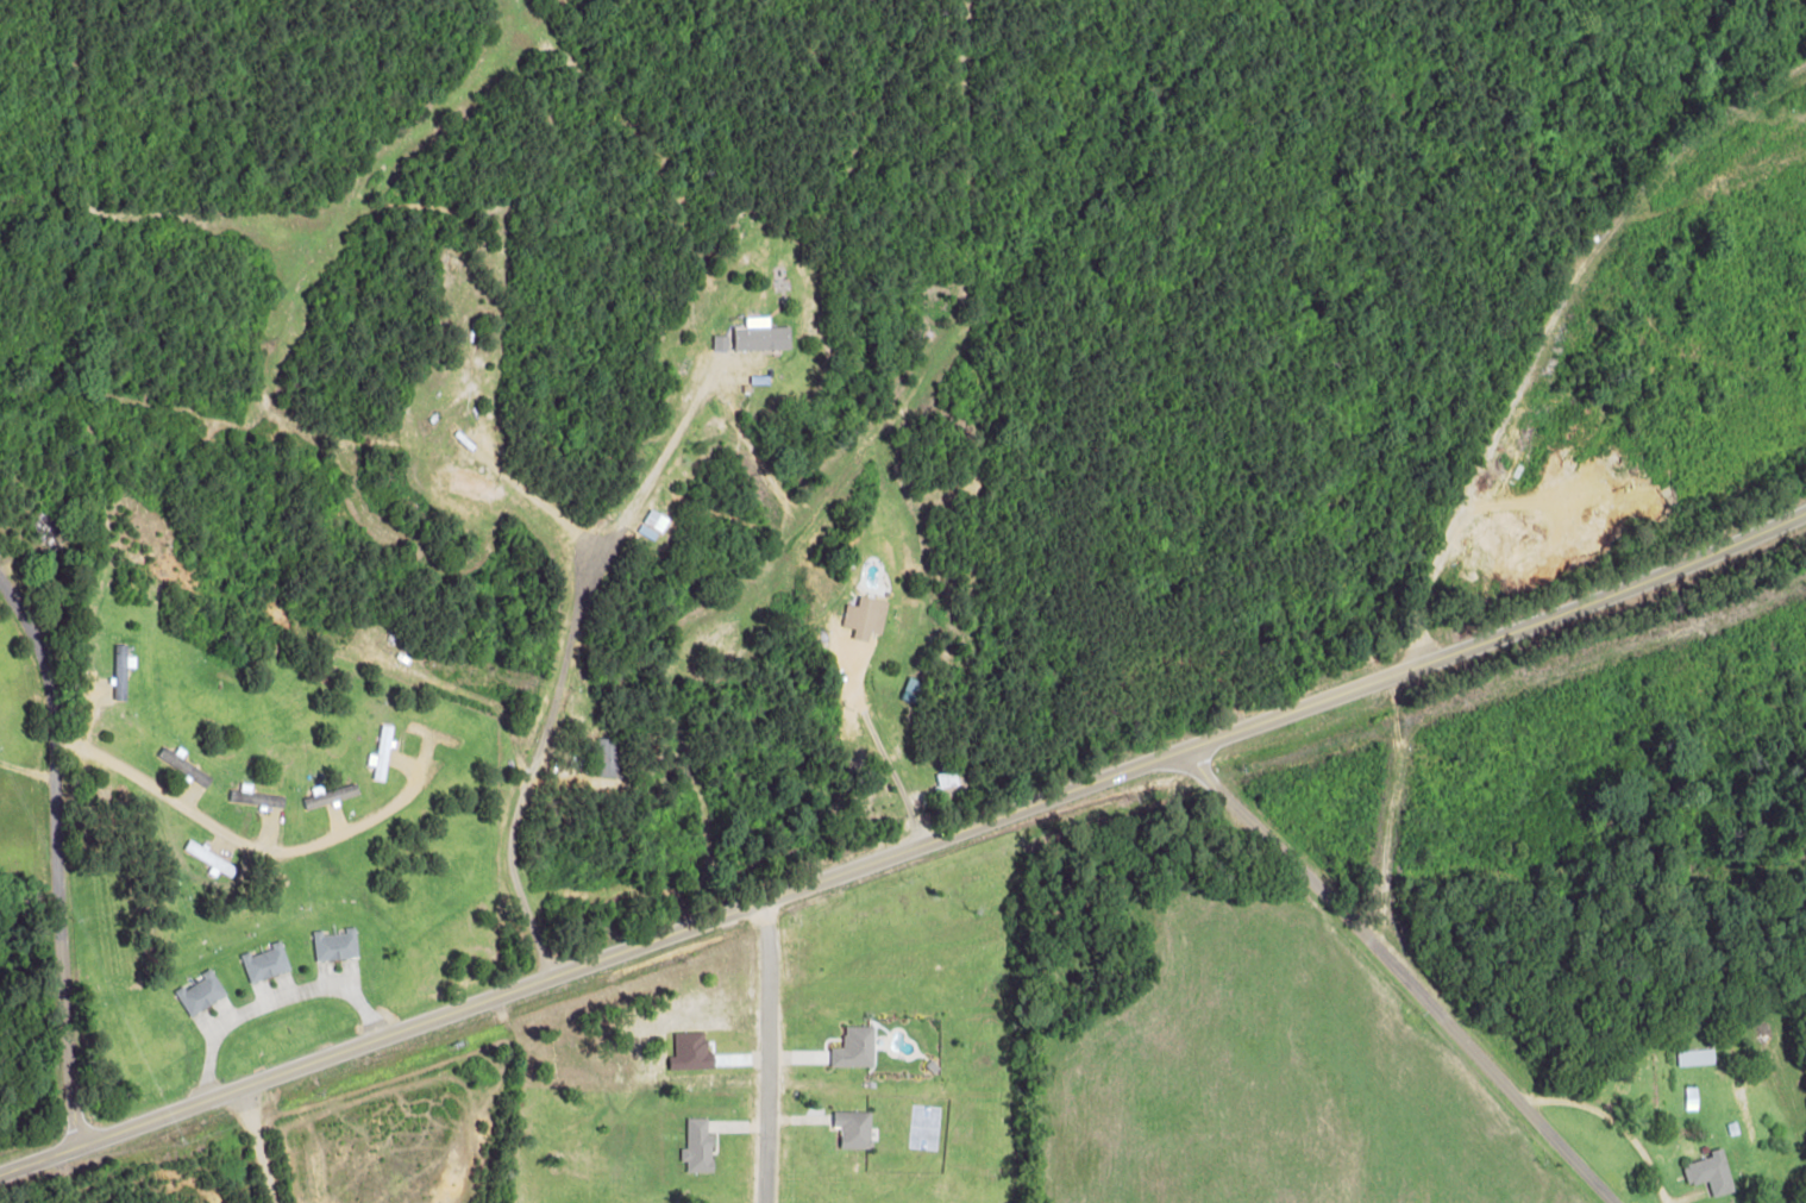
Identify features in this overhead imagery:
building: (763, 338)
building: (863, 618)
building: (120, 672)
building: (382, 752)
building: (607, 756)
building: (326, 796)
building: (256, 797)
road: (905, 852)
road: (62, 856)
building: (209, 857)
building: (336, 944)
building: (265, 961)
road: (1387, 973)
building: (200, 991)
building: (854, 1047)
building: (1695, 1055)
building: (1692, 1097)
building: (854, 1128)
building: (698, 1145)
building: (1712, 1172)

